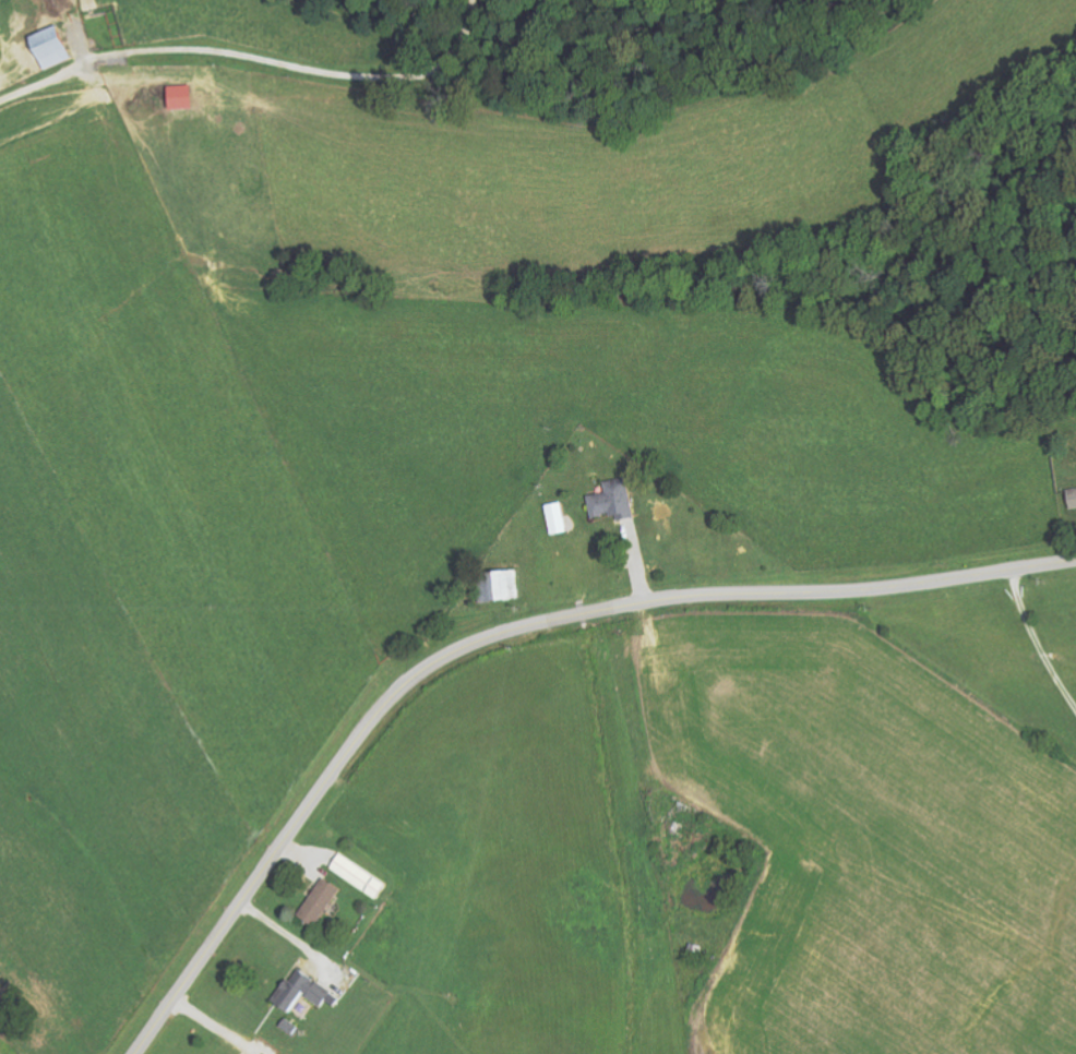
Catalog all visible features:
building: (57, 46)
road: (57, 64)
building: (186, 96)
building: (618, 501)
building: (561, 518)
building: (502, 586)
road: (509, 633)
road: (1039, 639)
building: (362, 877)
building: (324, 902)
road: (285, 941)
building: (308, 992)

